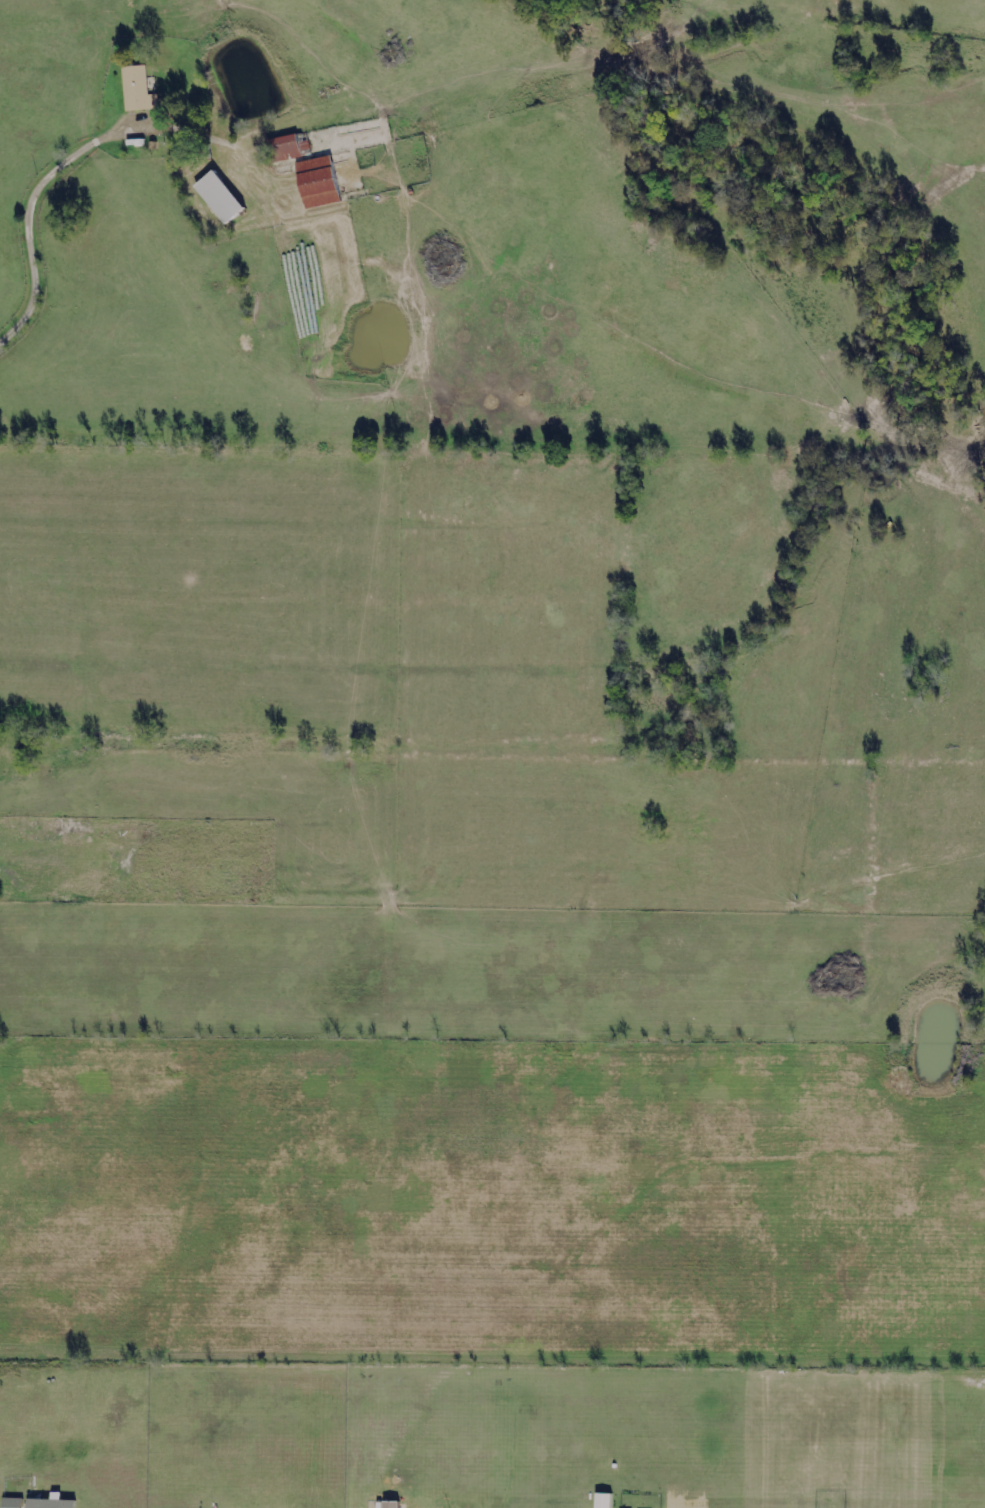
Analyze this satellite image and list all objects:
building: (136, 89)
building: (284, 150)
road: (42, 182)
building: (314, 184)
building: (216, 199)
building: (607, 1500)
building: (16, 1502)
building: (55, 1502)
building: (395, 1504)

